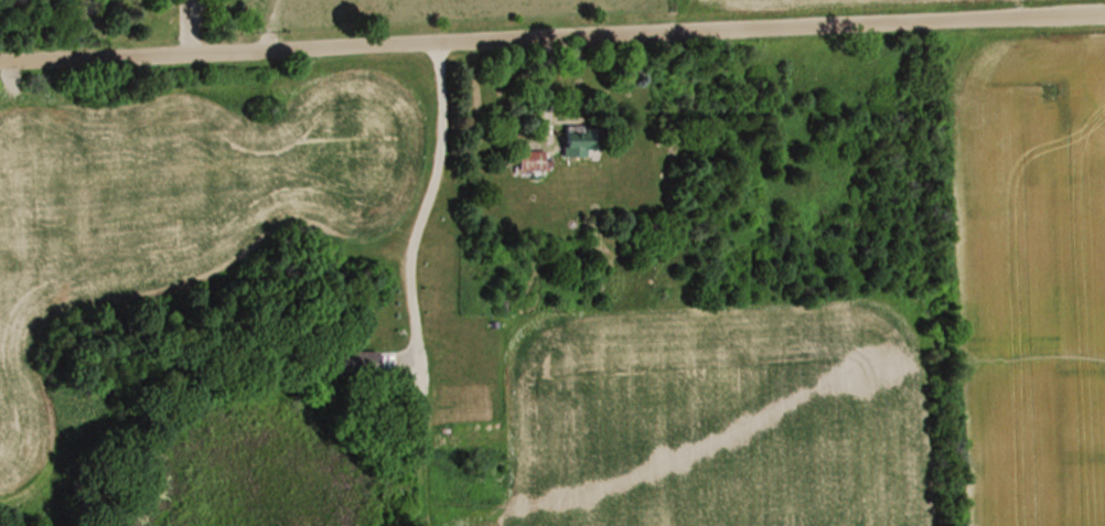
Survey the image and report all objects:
road: (552, 35)
building: (579, 140)
building: (532, 160)
building: (354, 363)

